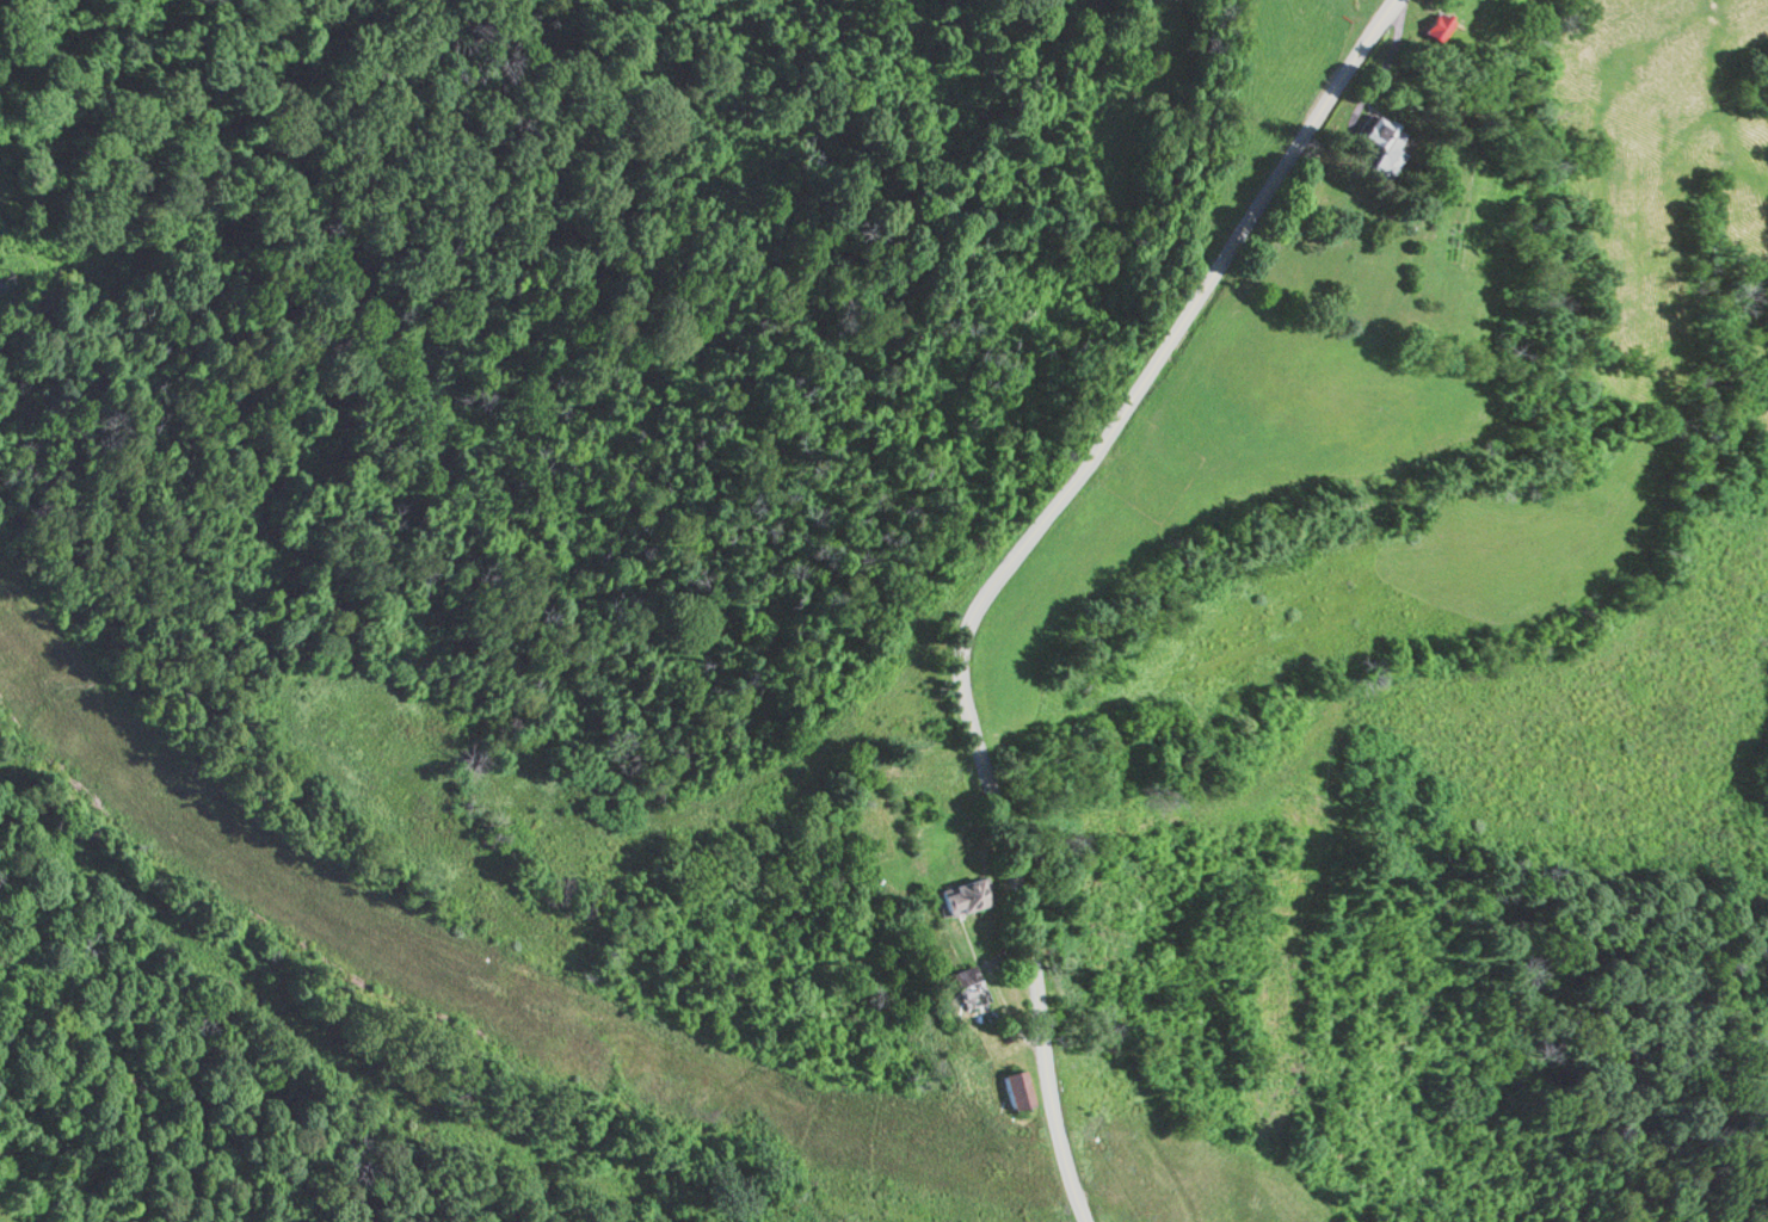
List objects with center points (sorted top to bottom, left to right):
building: (1435, 27)
building: (1387, 146)
road: (1011, 563)
building: (965, 895)
building: (969, 986)
building: (1017, 1088)

